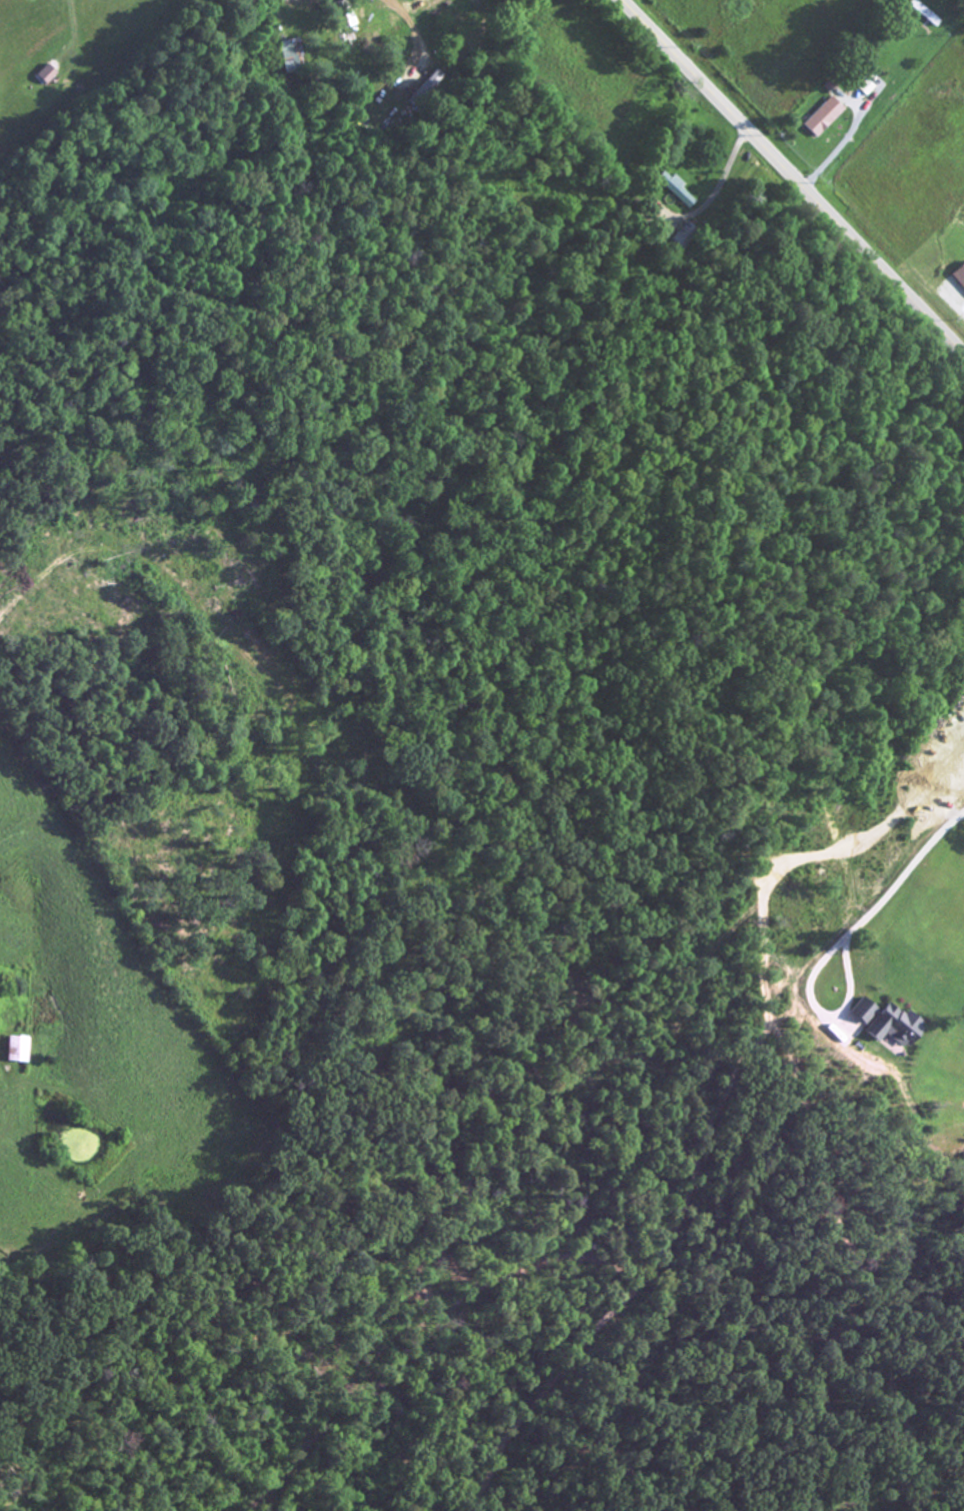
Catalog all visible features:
building: (289, 57)
building: (49, 75)
building: (425, 90)
building: (825, 117)
road: (790, 178)
building: (679, 194)
building: (960, 277)
building: (867, 1012)
building: (899, 1028)
building: (21, 1051)

